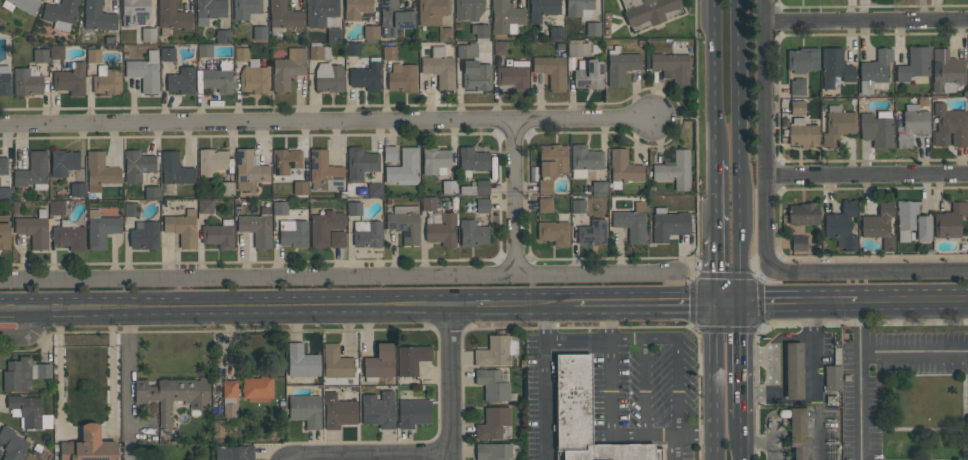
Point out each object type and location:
building: (21, 5)
building: (578, 7)
building: (211, 8)
building: (246, 8)
building: (357, 8)
building: (468, 9)
building: (542, 9)
road: (767, 10)
building: (61, 11)
building: (320, 11)
building: (135, 12)
building: (649, 12)
building: (172, 15)
building: (283, 15)
building: (98, 16)
building: (435, 16)
building: (506, 17)
building: (394, 18)
road: (868, 21)
building: (593, 29)
building: (480, 31)
building: (371, 32)
building: (260, 33)
building: (556, 33)
building: (148, 34)
building: (334, 35)
building: (223, 36)
building: (500, 48)
building: (352, 49)
building: (578, 49)
building: (205, 50)
building: (467, 50)
building: (56, 51)
building: (316, 52)
building: (389, 53)
building: (168, 54)
building: (40, 55)
building: (93, 55)
building: (802, 60)
building: (621, 65)
building: (915, 65)
building: (289, 67)
building: (440, 67)
building: (671, 67)
building: (835, 67)
building: (551, 69)
building: (875, 71)
building: (947, 71)
building: (145, 72)
building: (251, 73)
building: (476, 75)
building: (589, 75)
building: (366, 76)
building: (514, 76)
building: (329, 77)
building: (70, 79)
building: (403, 79)
building: (5, 80)
building: (107, 80)
building: (217, 80)
road: (714, 80)
building: (27, 81)
building: (182, 81)
building: (797, 86)
building: (798, 107)
road: (328, 120)
building: (838, 125)
building: (949, 126)
building: (912, 127)
building: (877, 130)
building: (802, 133)
road: (766, 142)
road: (740, 152)
building: (390, 154)
building: (286, 160)
building: (472, 160)
building: (584, 160)
building: (435, 161)
building: (63, 162)
building: (211, 162)
building: (360, 163)
building: (3, 165)
building: (137, 165)
building: (551, 165)
building: (624, 167)
building: (404, 168)
building: (175, 169)
building: (675, 170)
building: (249, 171)
building: (33, 172)
building: (100, 172)
building: (324, 172)
road: (867, 176)
building: (449, 187)
building: (482, 187)
building: (226, 188)
building: (300, 188)
building: (599, 188)
building: (77, 189)
building: (375, 190)
building: (5, 193)
building: (152, 193)
road: (522, 195)
road: (713, 198)
building: (429, 203)
building: (545, 205)
building: (205, 206)
building: (482, 206)
building: (578, 206)
building: (57, 207)
building: (280, 208)
building: (354, 208)
building: (131, 209)
building: (803, 213)
building: (913, 220)
building: (949, 220)
building: (632, 222)
building: (405, 223)
building: (669, 224)
building: (880, 225)
building: (841, 226)
building: (183, 227)
building: (257, 227)
building: (324, 227)
building: (442, 228)
building: (34, 229)
building: (100, 229)
building: (554, 232)
building: (592, 232)
building: (4, 233)
building: (293, 233)
building: (367, 233)
building: (472, 233)
building: (219, 234)
building: (69, 235)
building: (145, 235)
building: (337, 239)
building: (799, 243)
road: (712, 270)
road: (866, 272)
road: (341, 273)
road: (477, 301)
road: (912, 301)
road: (538, 302)
road: (642, 303)
road: (797, 303)
road: (225, 304)
traffic signals: (712, 304)
road: (725, 304)
traffic signals: (739, 305)
road: (806, 337)
road: (31, 338)
road: (660, 339)
road: (576, 340)
road: (624, 340)
road: (912, 351)
building: (493, 352)
building: (412, 359)
building: (302, 361)
road: (740, 361)
building: (380, 362)
building: (336, 363)
building: (794, 371)
building: (23, 374)
road: (779, 375)
building: (833, 378)
road: (450, 380)
road: (545, 380)
road: (857, 381)
road: (713, 382)
road: (128, 383)
building: (492, 385)
road: (608, 385)
road: (815, 387)
building: (257, 388)
gas station: (798, 393)
building: (173, 395)
building: (230, 398)
building: (831, 400)
building: (26, 409)
building: (378, 409)
building: (305, 410)
building: (338, 411)
building: (413, 412)
road: (798, 413)
road: (811, 413)
building: (586, 417)
road: (771, 419)
building: (493, 423)
road: (815, 429)
building: (798, 432)
road: (697, 433)
road: (661, 434)
road: (741, 438)
road: (756, 440)
building: (12, 444)
building: (89, 446)
road: (679, 447)
road: (771, 450)
building: (493, 451)
building: (234, 452)
road: (390, 457)

